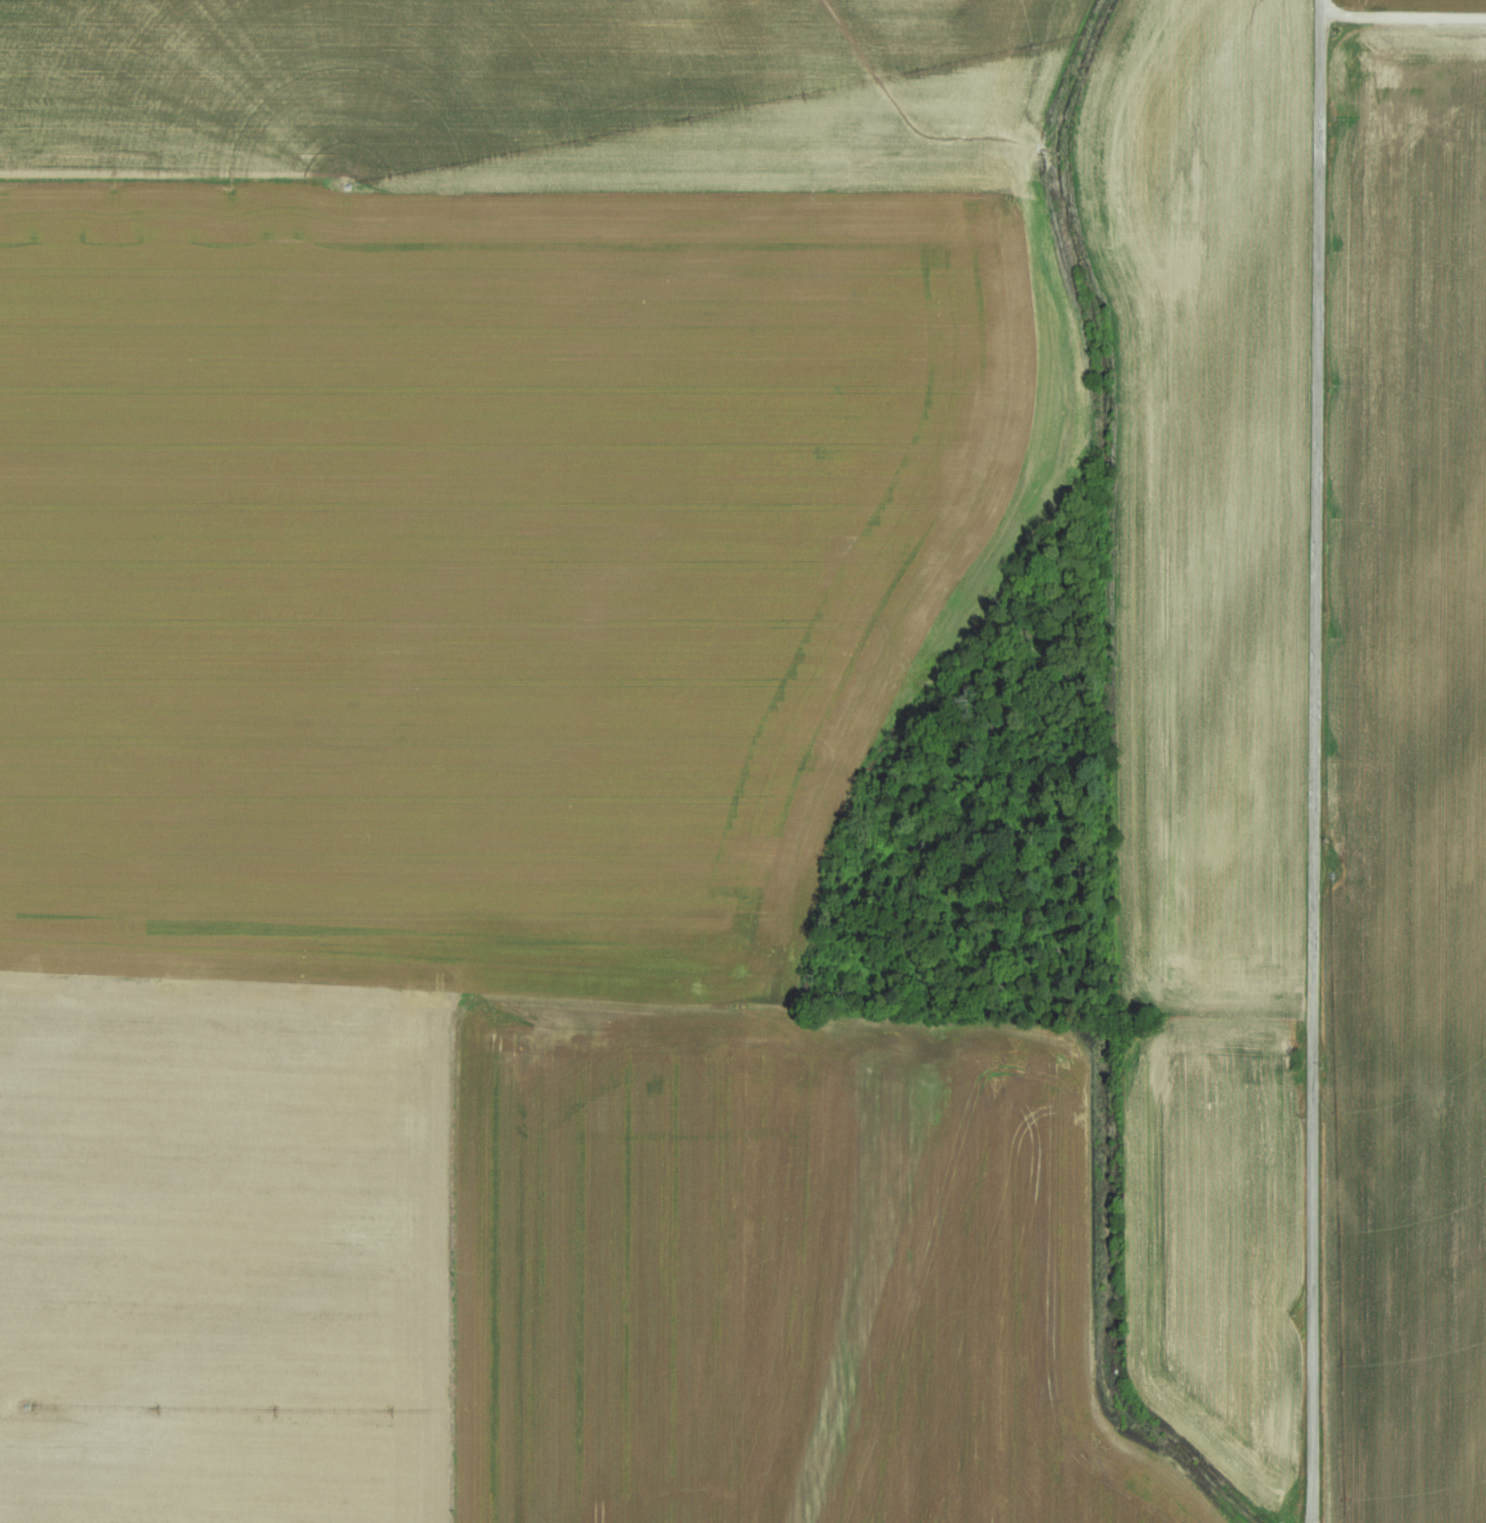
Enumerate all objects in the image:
road: (1402, 19)
road: (1314, 761)

